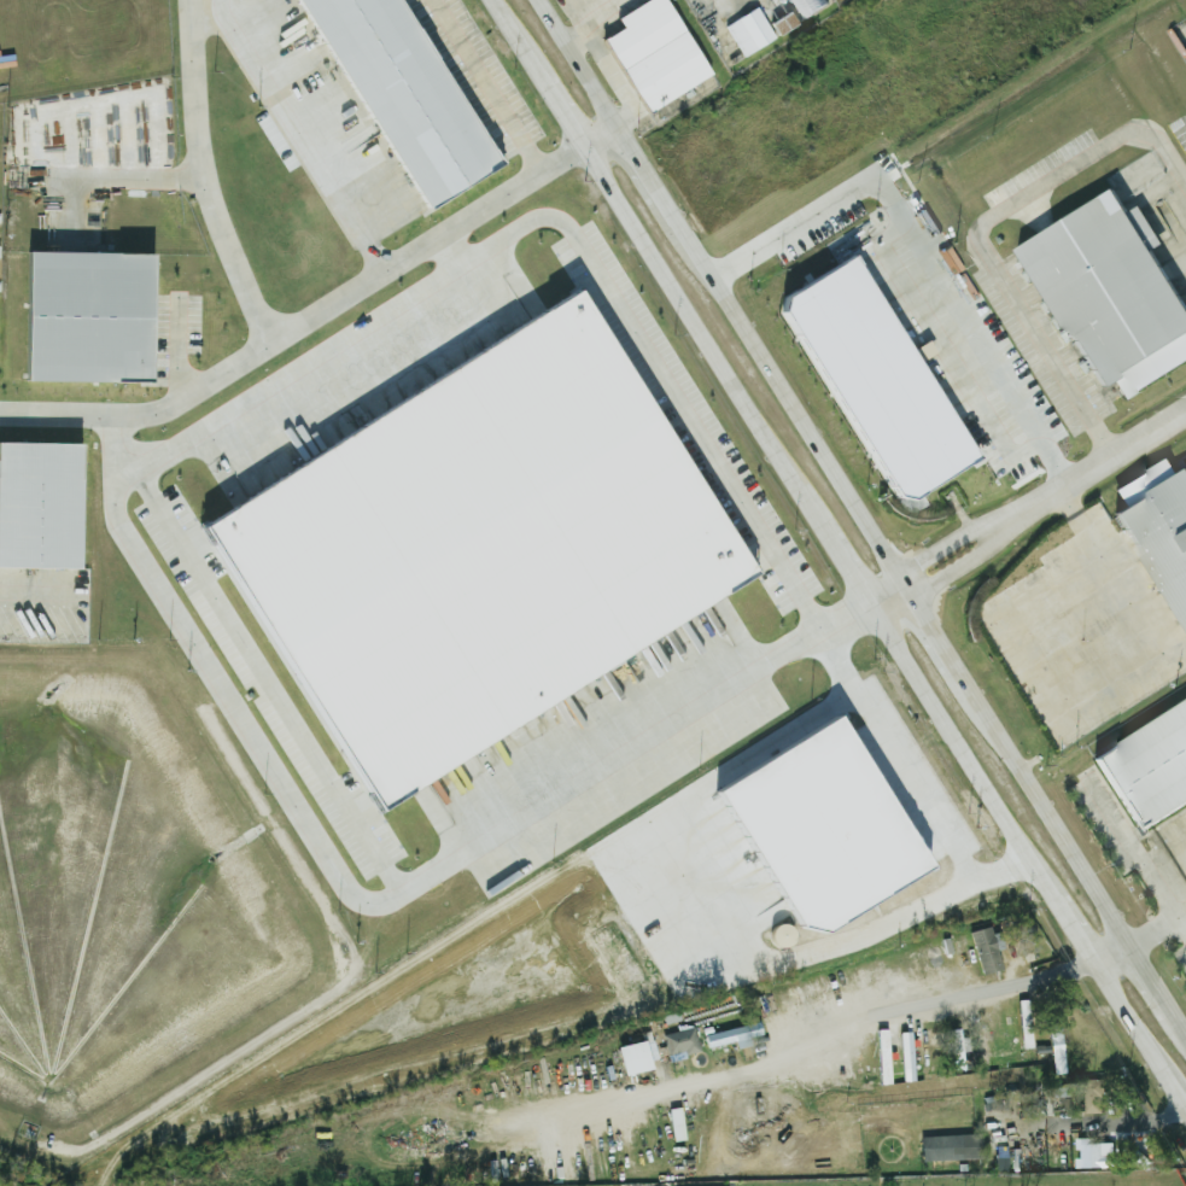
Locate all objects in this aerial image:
building: (804, 5)
road: (726, 6)
building: (785, 25)
building: (750, 34)
road: (577, 43)
road: (595, 53)
building: (658, 54)
road: (490, 84)
building: (391, 94)
road: (299, 135)
road: (601, 136)
road: (113, 174)
road: (76, 208)
road: (547, 228)
road: (978, 230)
road: (931, 249)
road: (449, 255)
road: (655, 262)
road: (720, 290)
building: (1106, 293)
building: (80, 317)
road: (277, 333)
road: (177, 346)
building: (864, 381)
road: (146, 411)
road: (1089, 468)
building: (39, 501)
building: (1158, 533)
road: (939, 547)
building: (462, 551)
road: (845, 565)
road: (953, 568)
road: (1116, 582)
road: (34, 591)
road: (886, 594)
building: (1161, 670)
road: (264, 685)
road: (1015, 764)
building: (1144, 767)
road: (981, 781)
road: (910, 782)
road: (1139, 855)
road: (705, 899)
road: (373, 912)
road: (1156, 928)
building: (981, 952)
road: (1147, 978)
road: (901, 1020)
road: (1178, 1023)
road: (1139, 1029)
building: (730, 1036)
building: (977, 1041)
building: (677, 1044)
building: (1052, 1051)
building: (627, 1059)
building: (901, 1063)
building: (895, 1111)
road: (1017, 1123)
road: (1116, 1123)
building: (672, 1124)
building: (947, 1149)
building: (1091, 1155)

